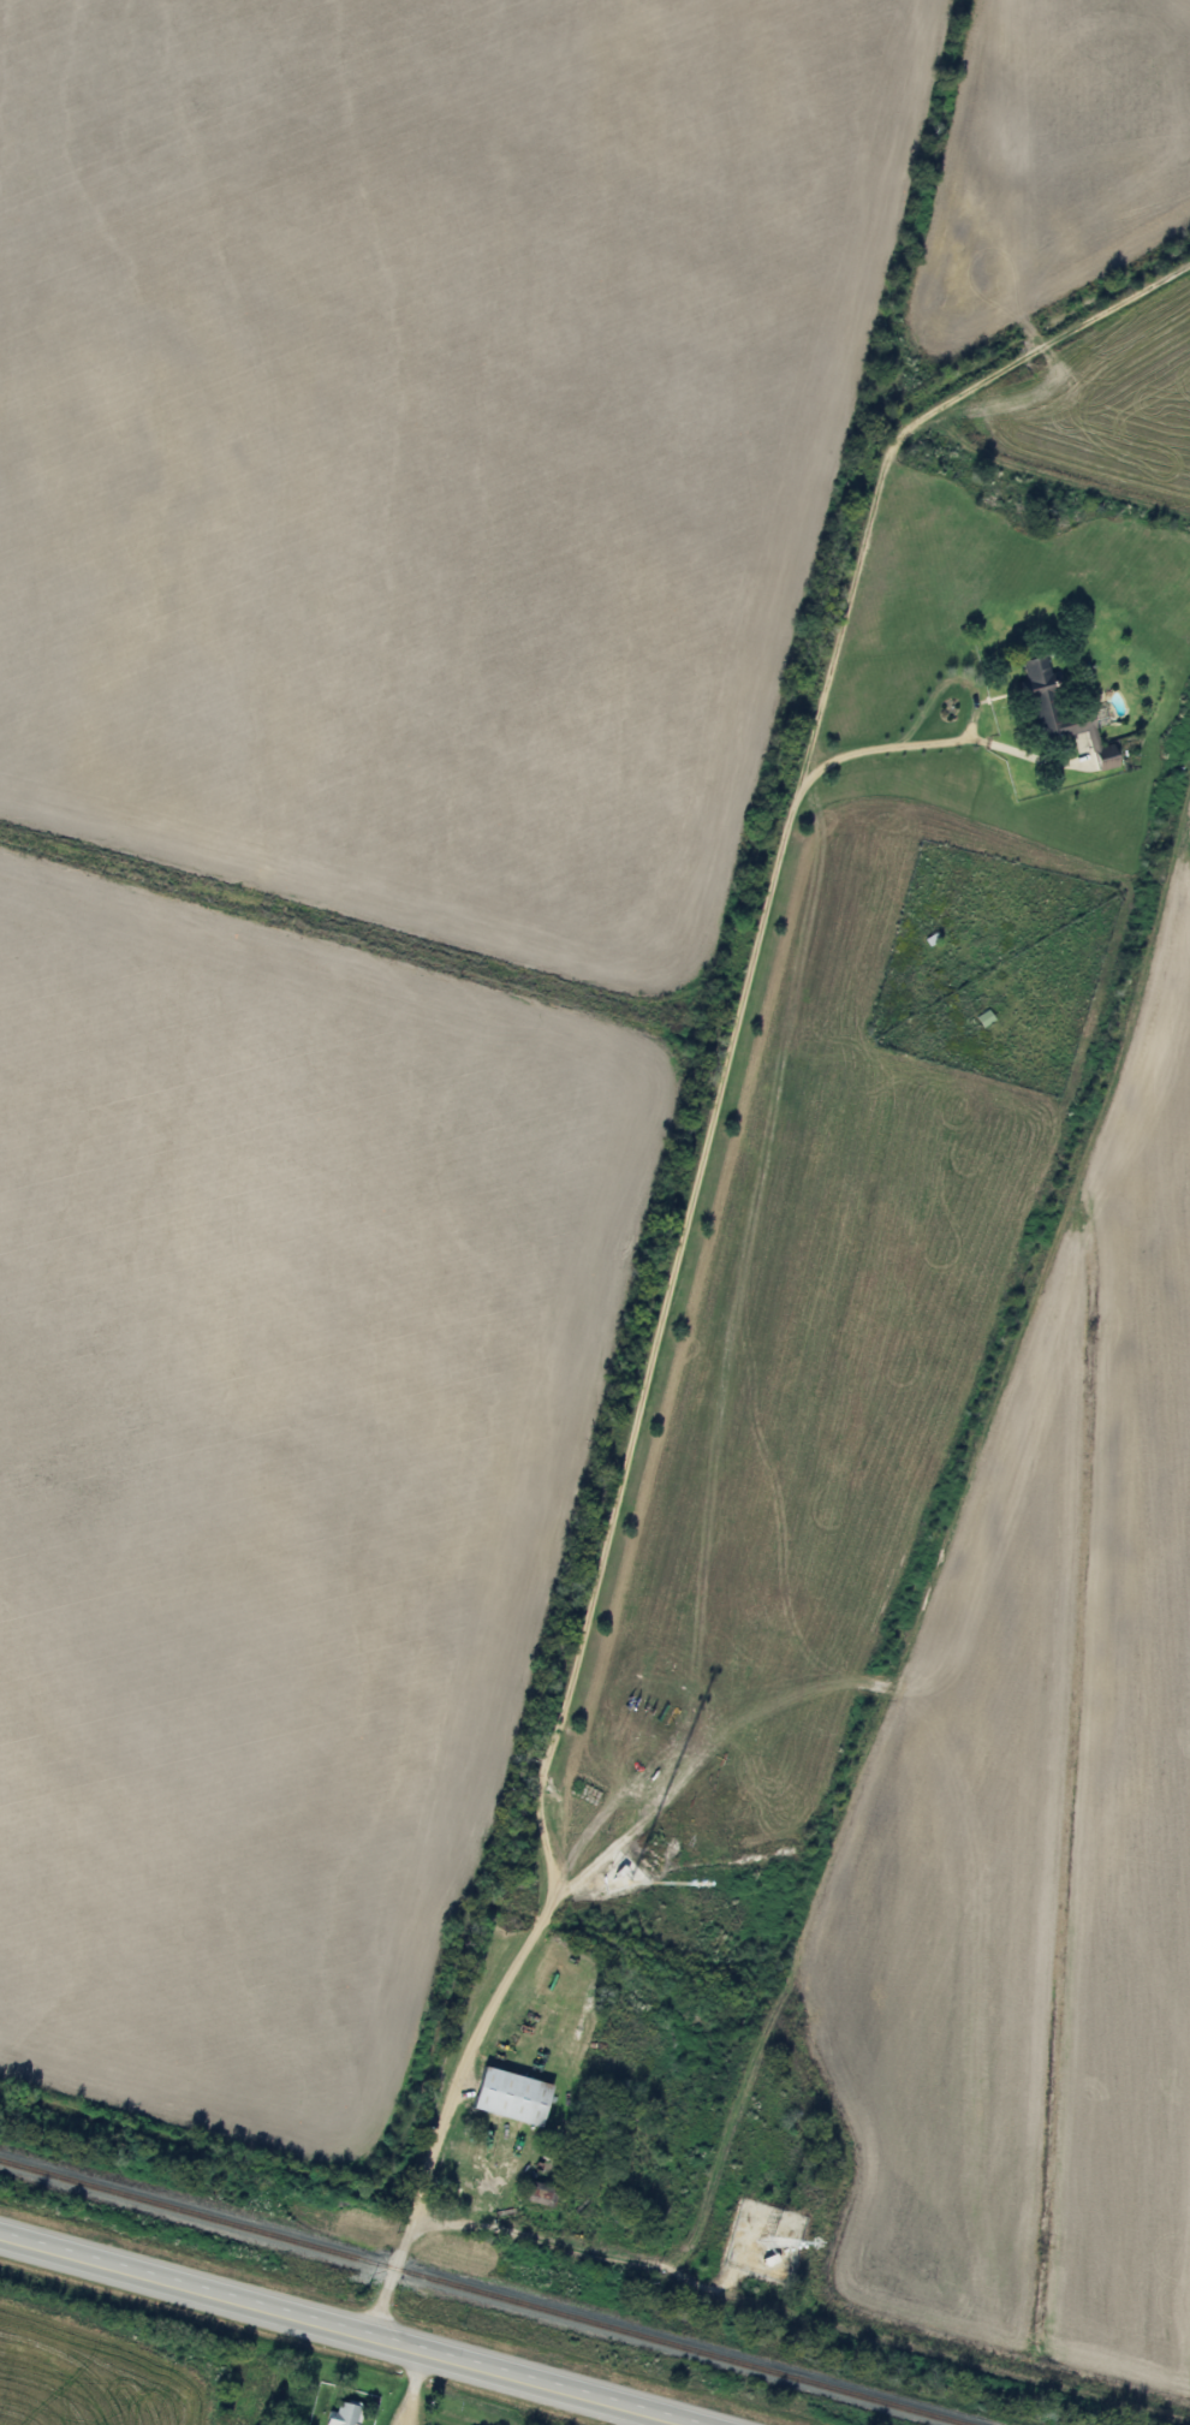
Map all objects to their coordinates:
building: (1039, 687)
road: (947, 745)
road: (696, 1172)
building: (508, 2097)
road: (565, 2241)
road: (385, 2272)
railway: (477, 2294)
road: (351, 2329)
building: (343, 2414)

